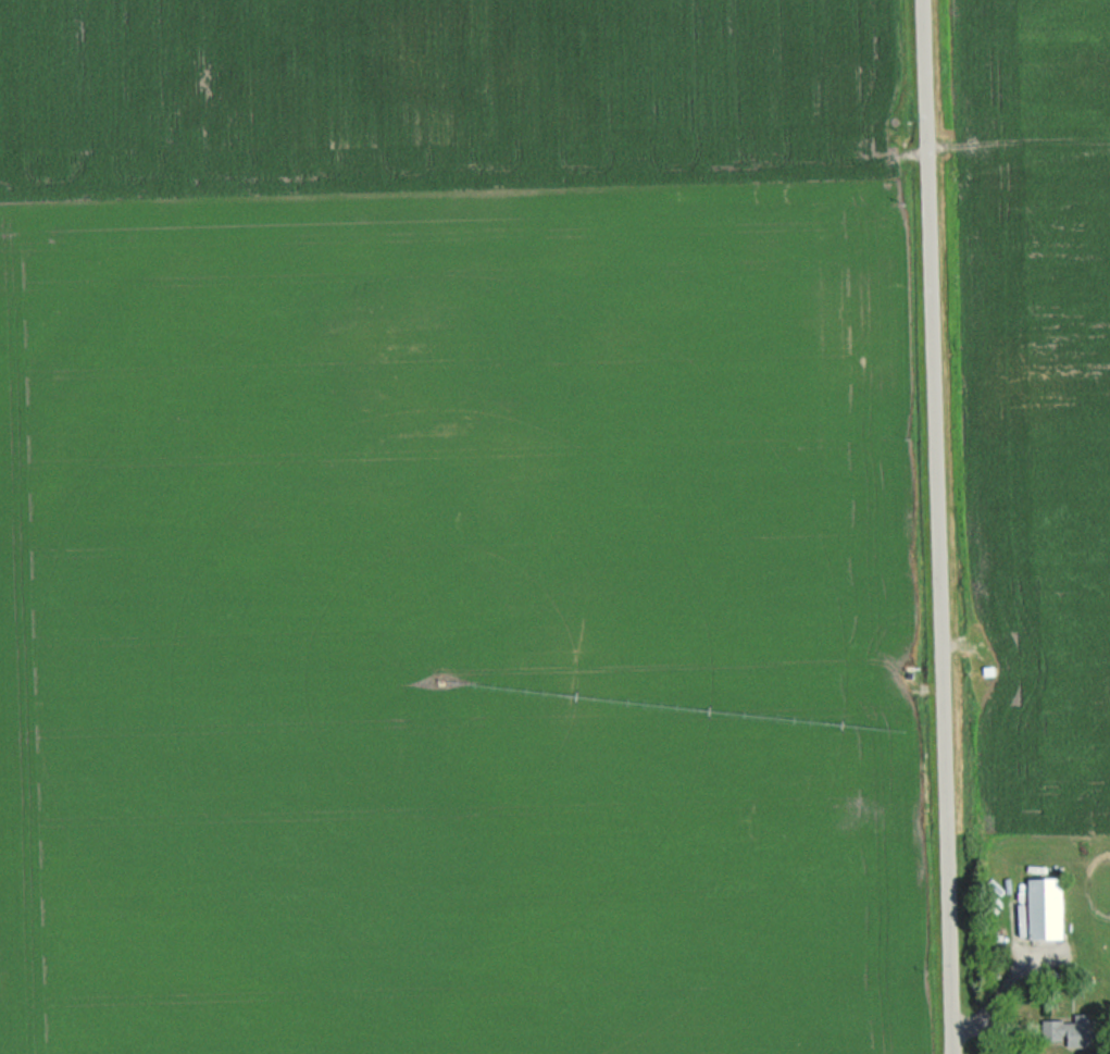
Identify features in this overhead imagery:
road: (939, 526)
building: (1037, 909)
road: (1003, 984)
building: (1062, 1031)

